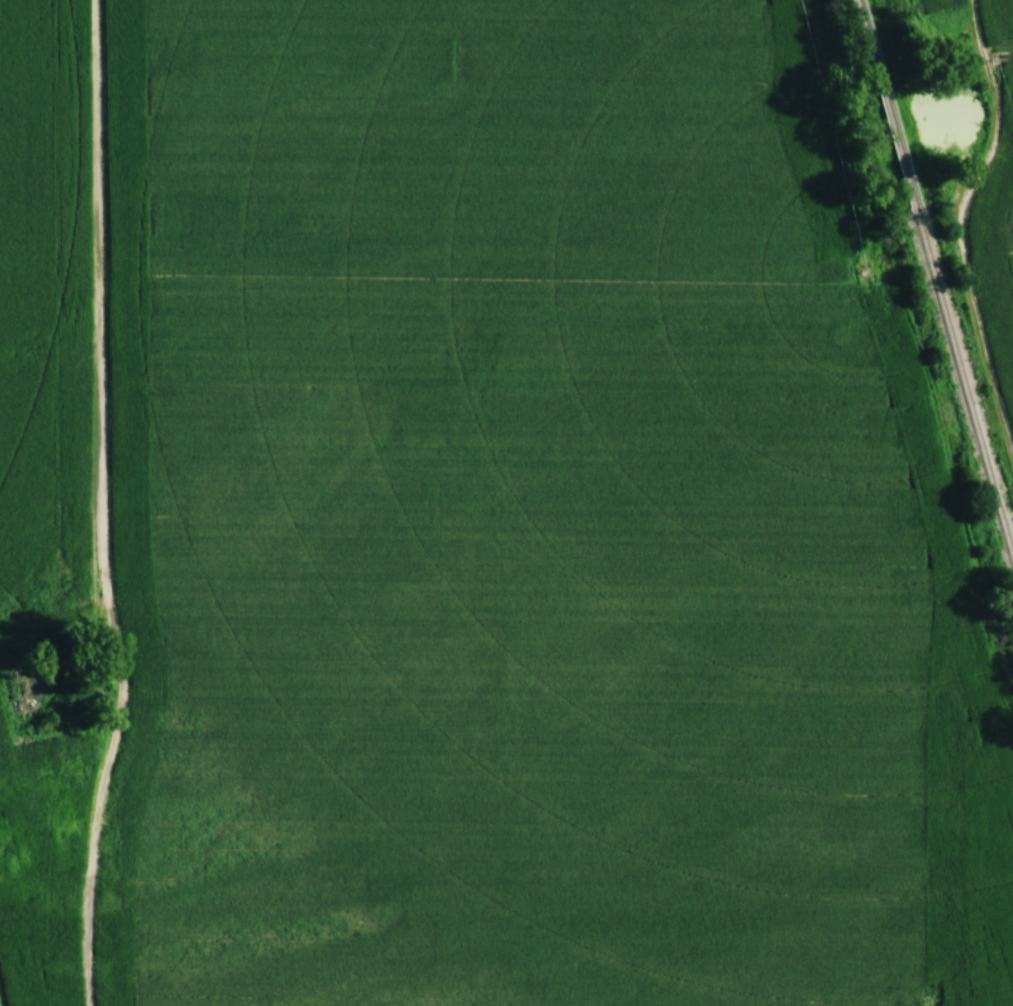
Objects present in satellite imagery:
railway: (934, 281)

